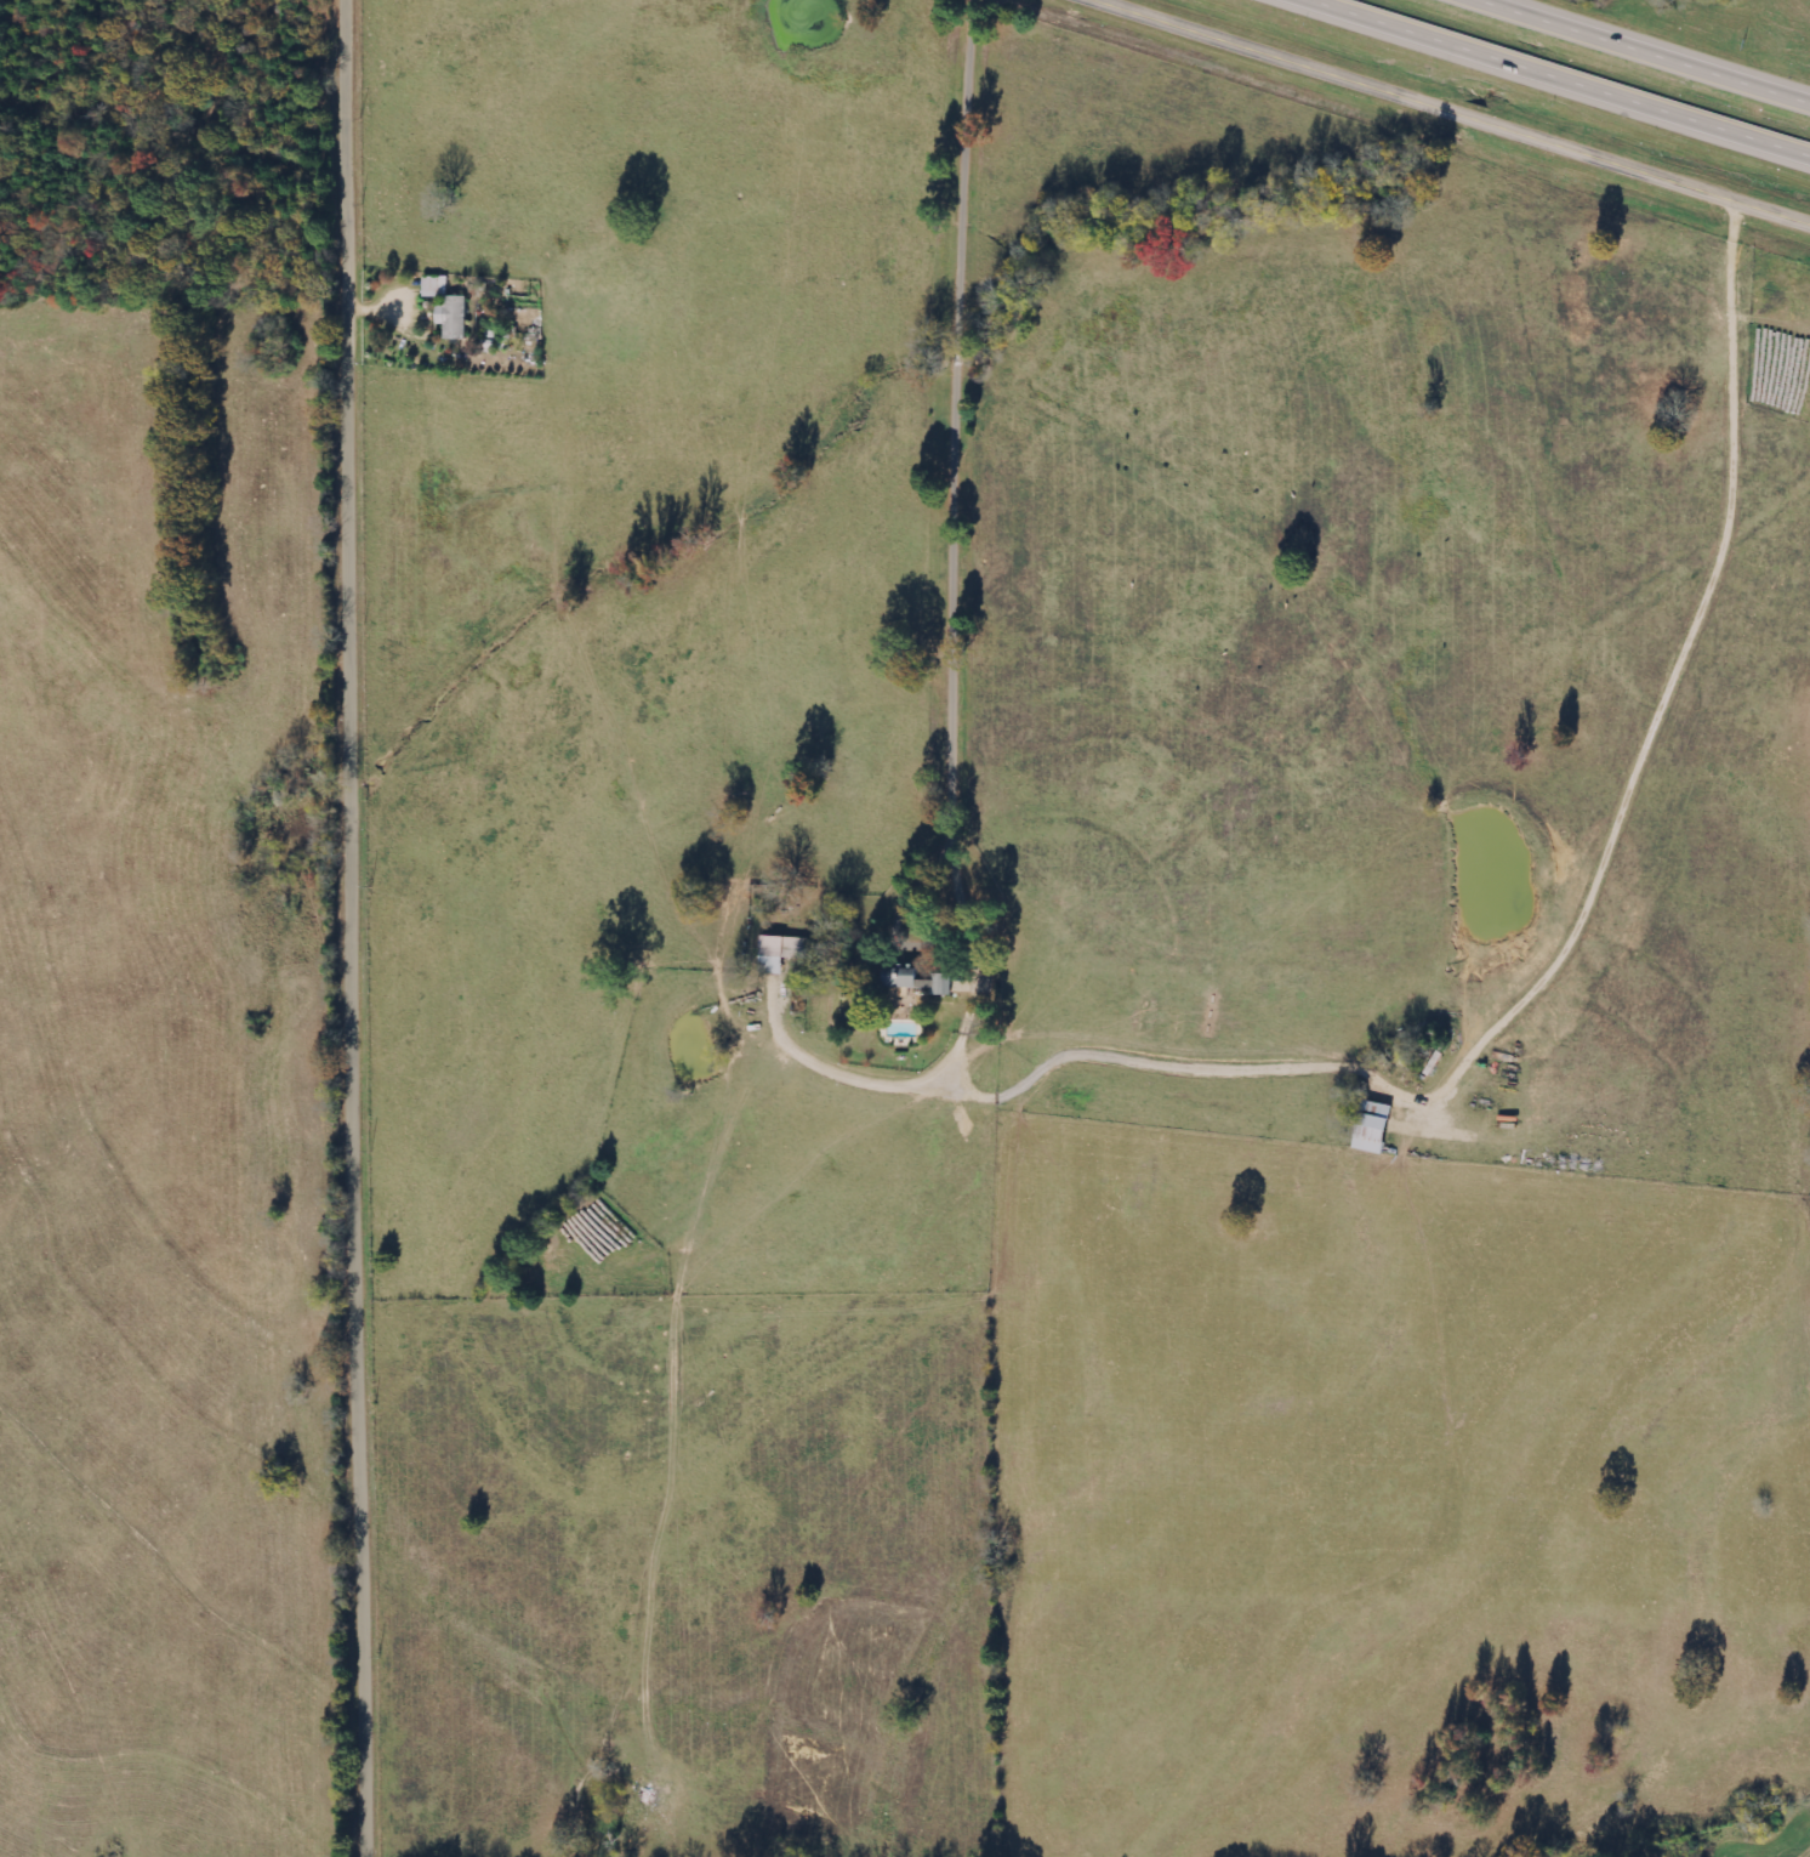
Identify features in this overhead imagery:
road: (1657, 46)
road: (1569, 74)
road: (1459, 108)
building: (437, 286)
building: (455, 317)
road: (360, 928)
building: (781, 952)
building: (905, 979)
building: (945, 984)
building: (1373, 1128)

